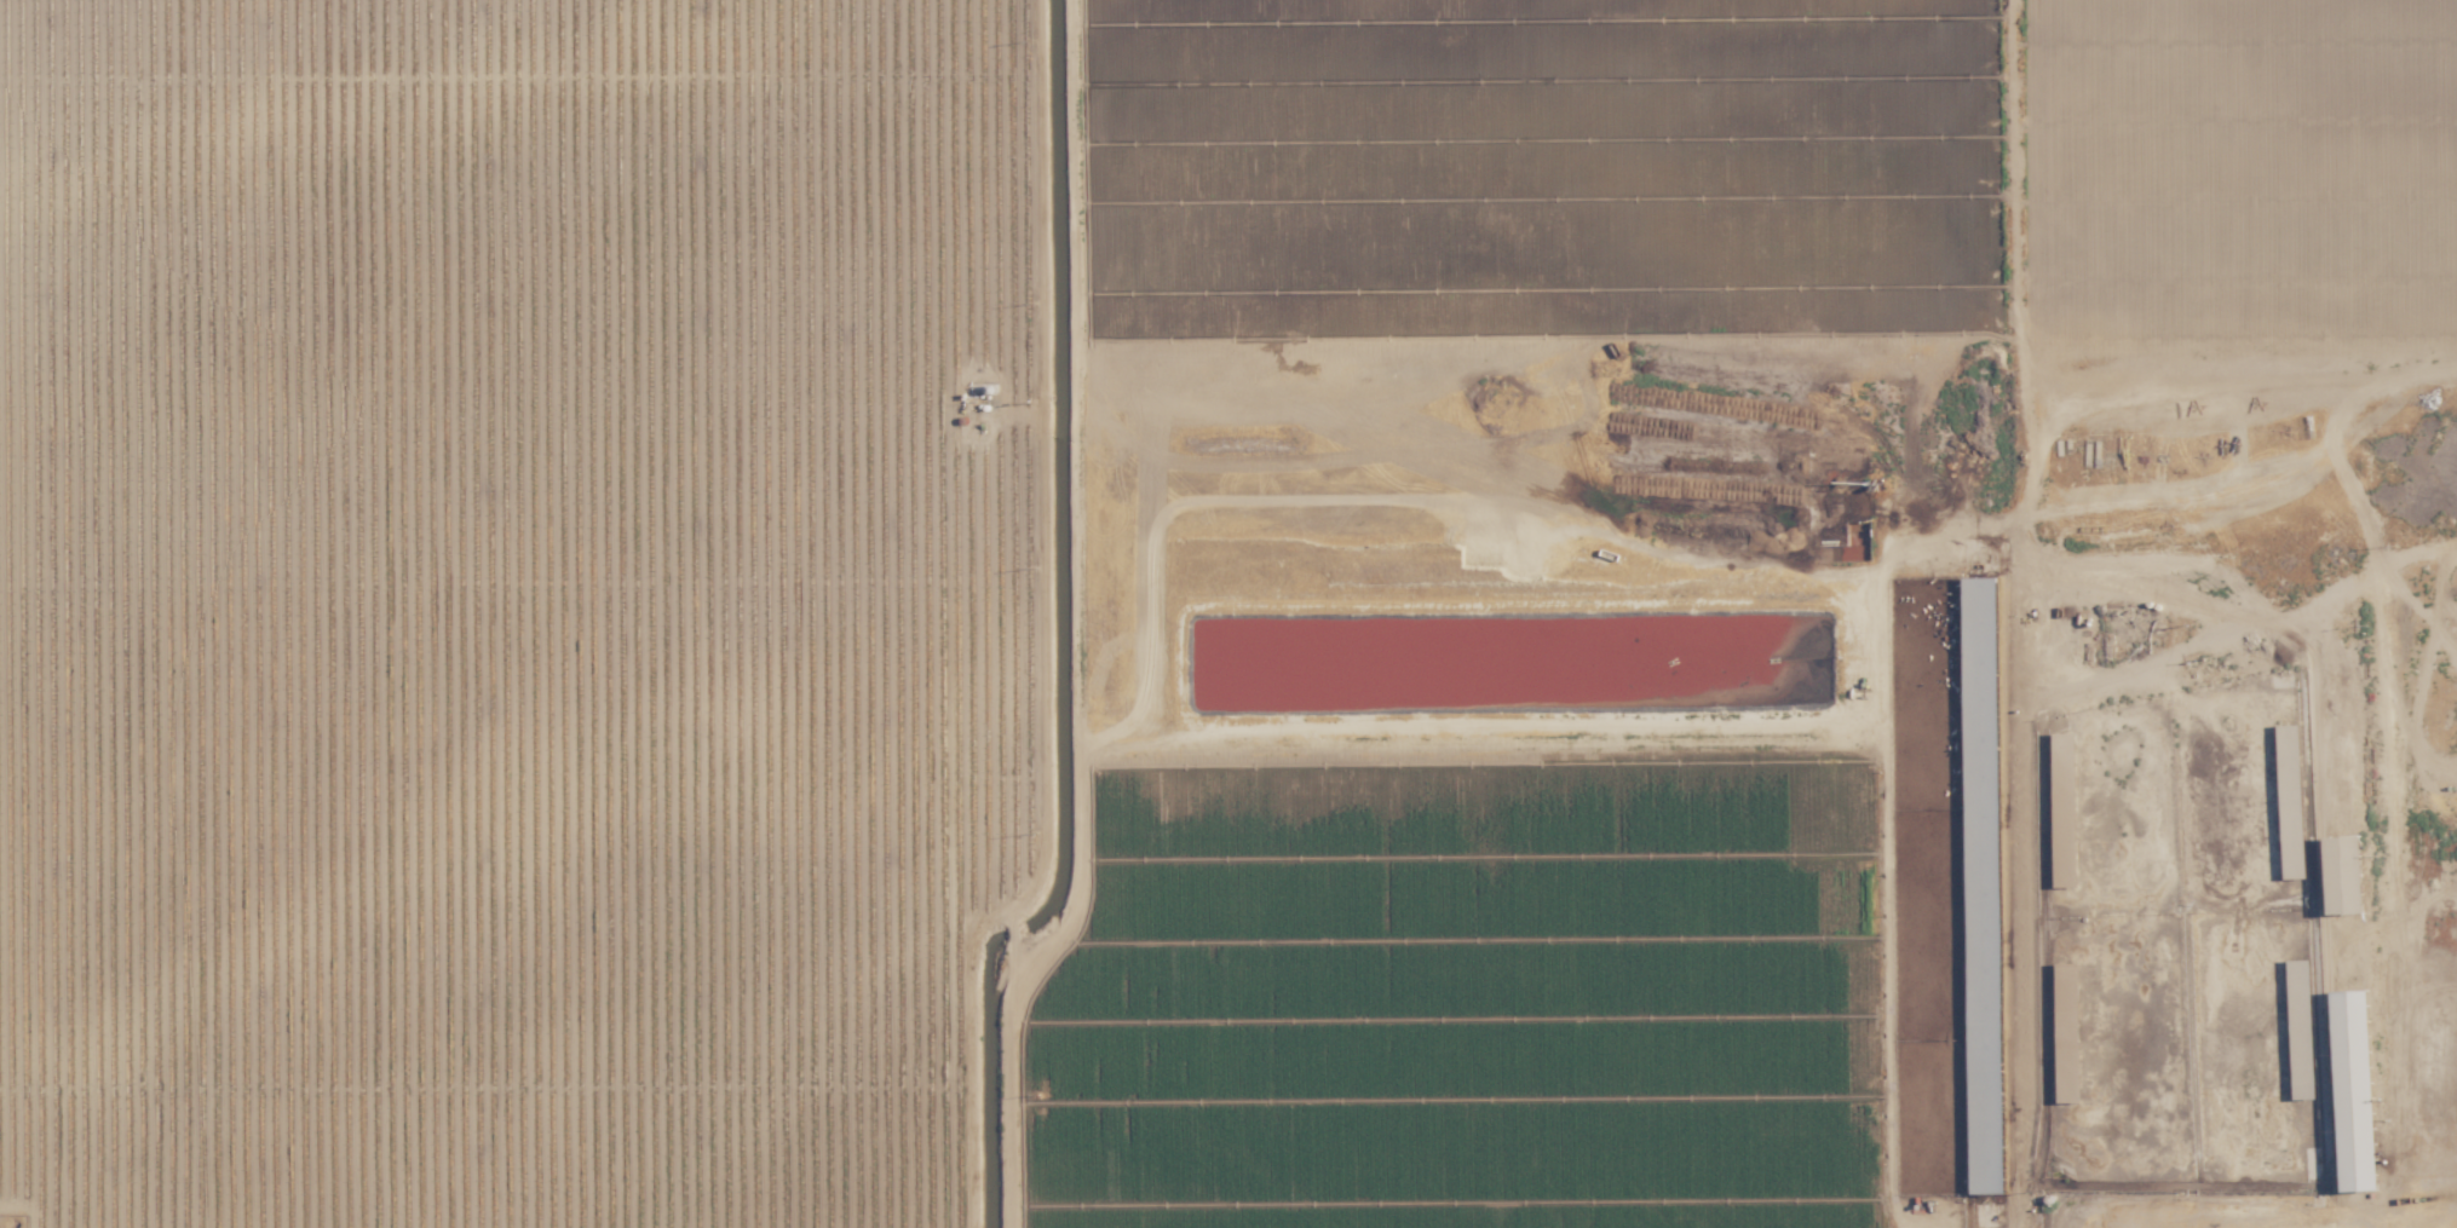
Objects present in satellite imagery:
road: (2332, 429)
crop: (1754, 612)
road: (2229, 616)
road: (1022, 972)
building: (2298, 1027)
building: (2354, 1088)

